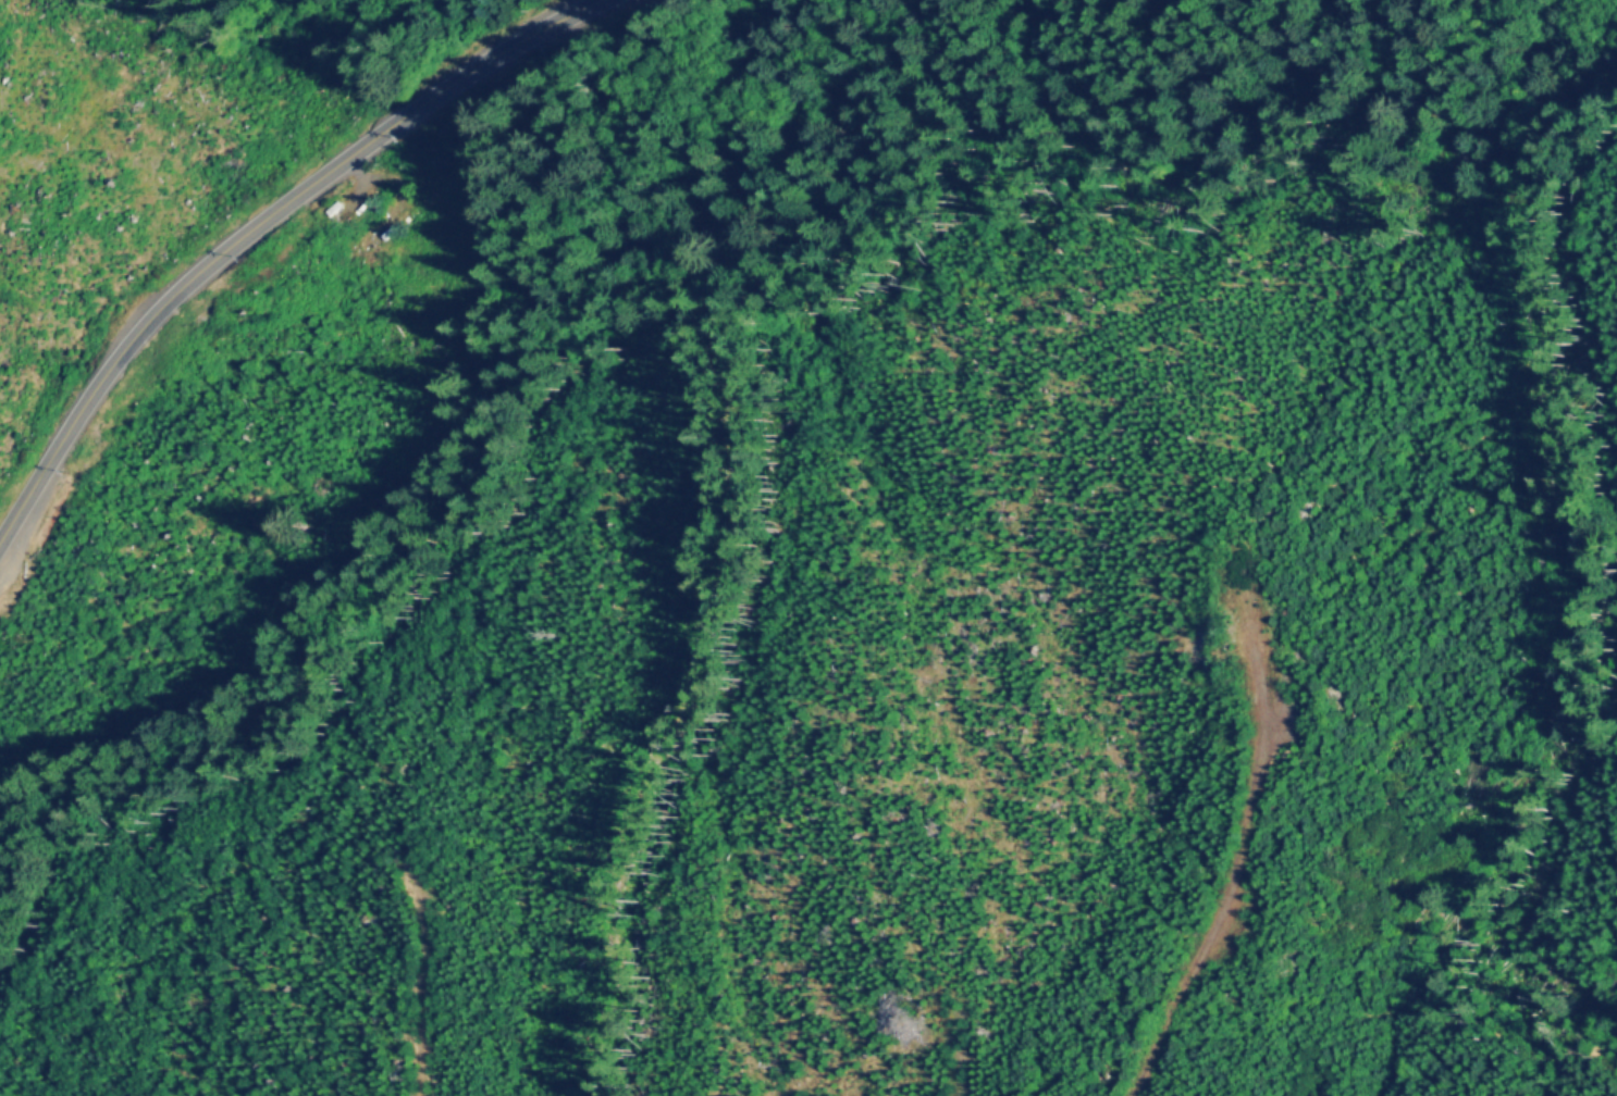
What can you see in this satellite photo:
road: (258, 225)
road: (1231, 856)
road: (423, 981)

